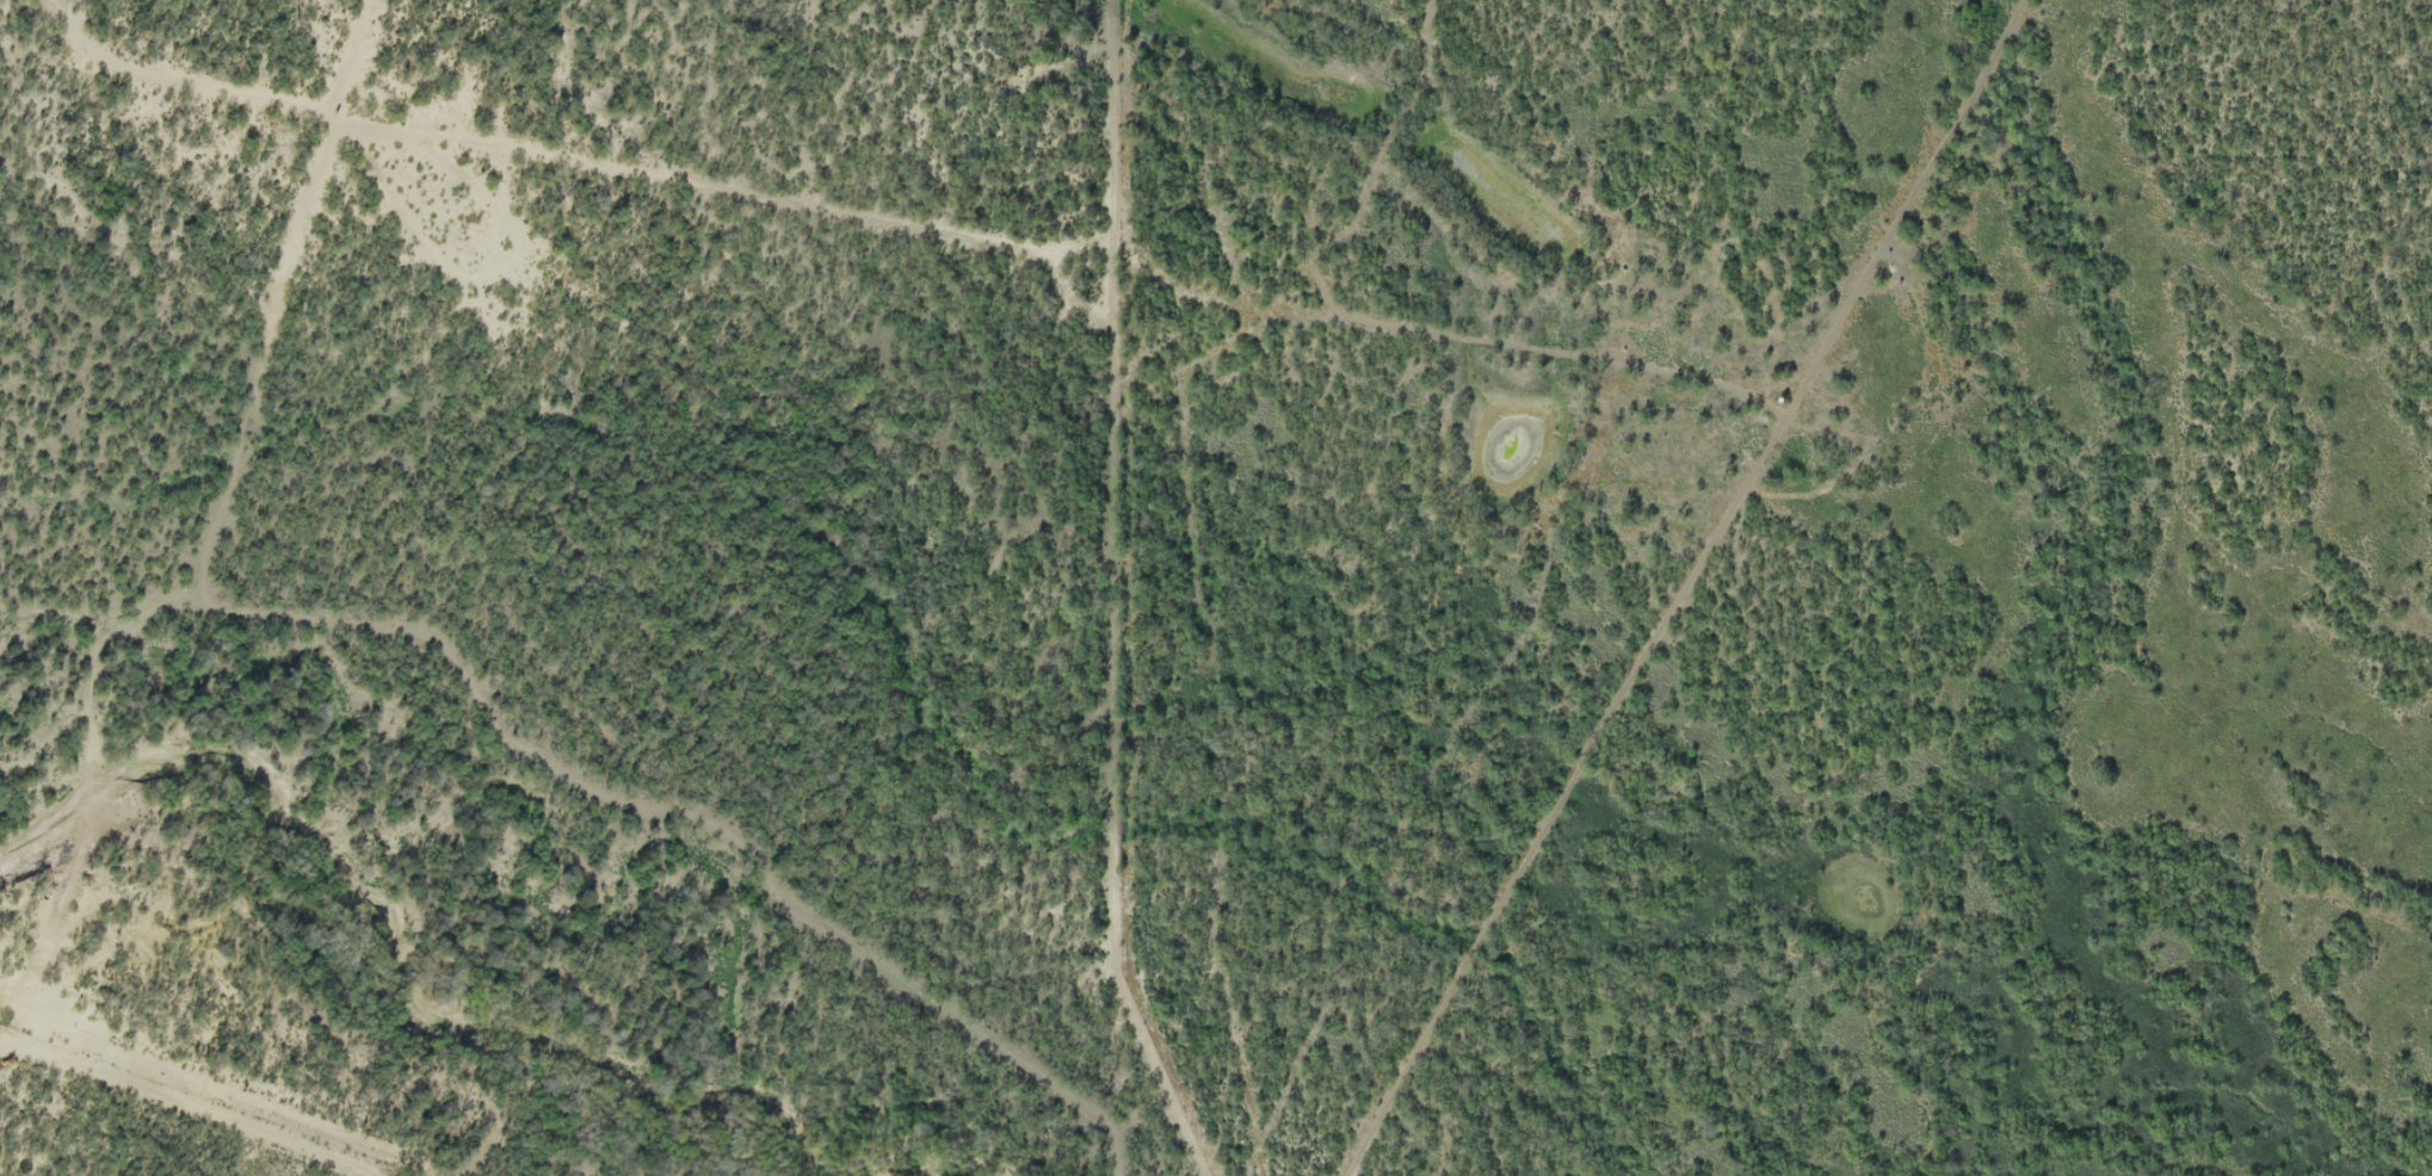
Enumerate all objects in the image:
river: (424, 1002)

